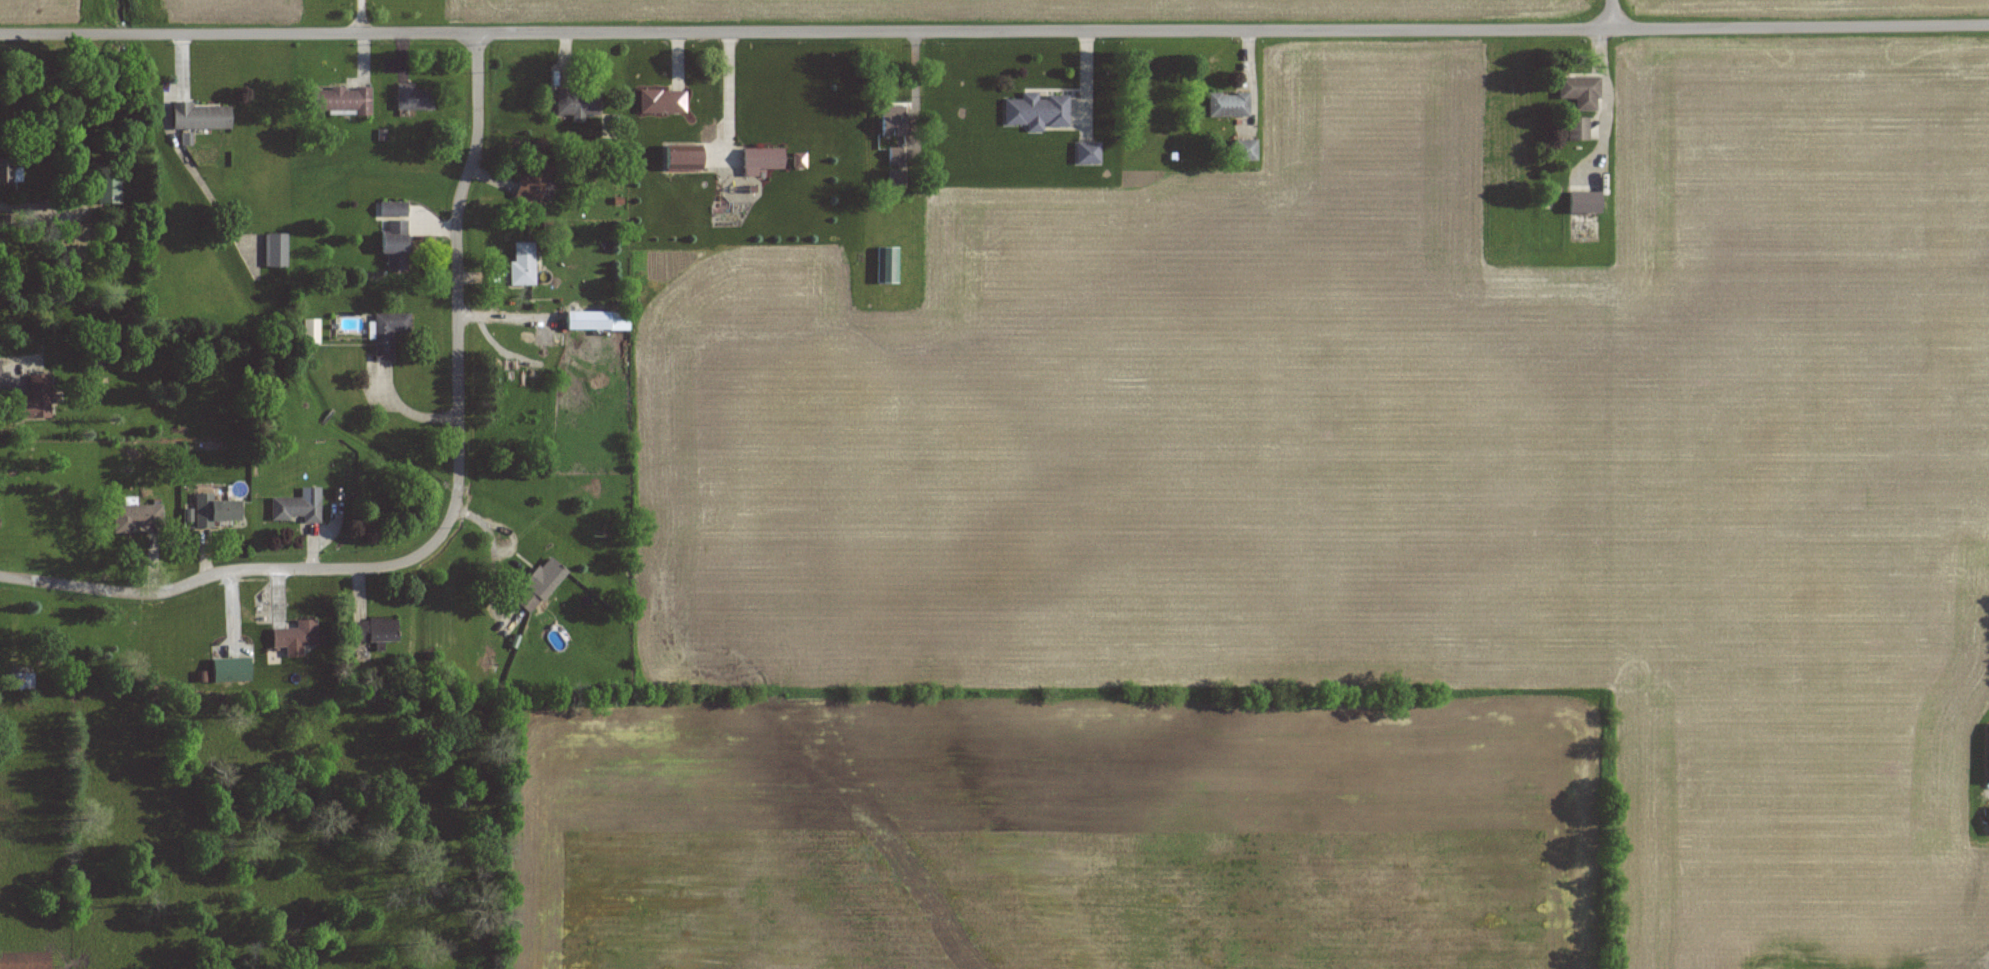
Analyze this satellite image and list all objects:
road: (1611, 14)
road: (359, 16)
road: (994, 31)
road: (727, 90)
building: (1581, 92)
building: (414, 98)
building: (342, 101)
building: (663, 101)
building: (576, 104)
building: (1228, 105)
building: (1037, 111)
building: (200, 117)
building: (893, 124)
building: (1579, 129)
building: (1246, 150)
building: (1088, 153)
building: (764, 158)
building: (684, 160)
building: (895, 167)
building: (11, 171)
building: (535, 183)
building: (107, 184)
road: (24, 205)
building: (393, 209)
building: (1585, 217)
building: (72, 238)
building: (396, 244)
building: (275, 250)
building: (0, 263)
building: (523, 264)
building: (887, 264)
building: (598, 321)
building: (310, 331)
building: (388, 333)
road: (7, 377)
building: (36, 399)
building: (295, 510)
building: (217, 511)
road: (453, 511)
building: (138, 518)
building: (539, 585)
building: (375, 630)
building: (295, 638)
building: (21, 681)
building: (1986, 752)
building: (25, 961)

